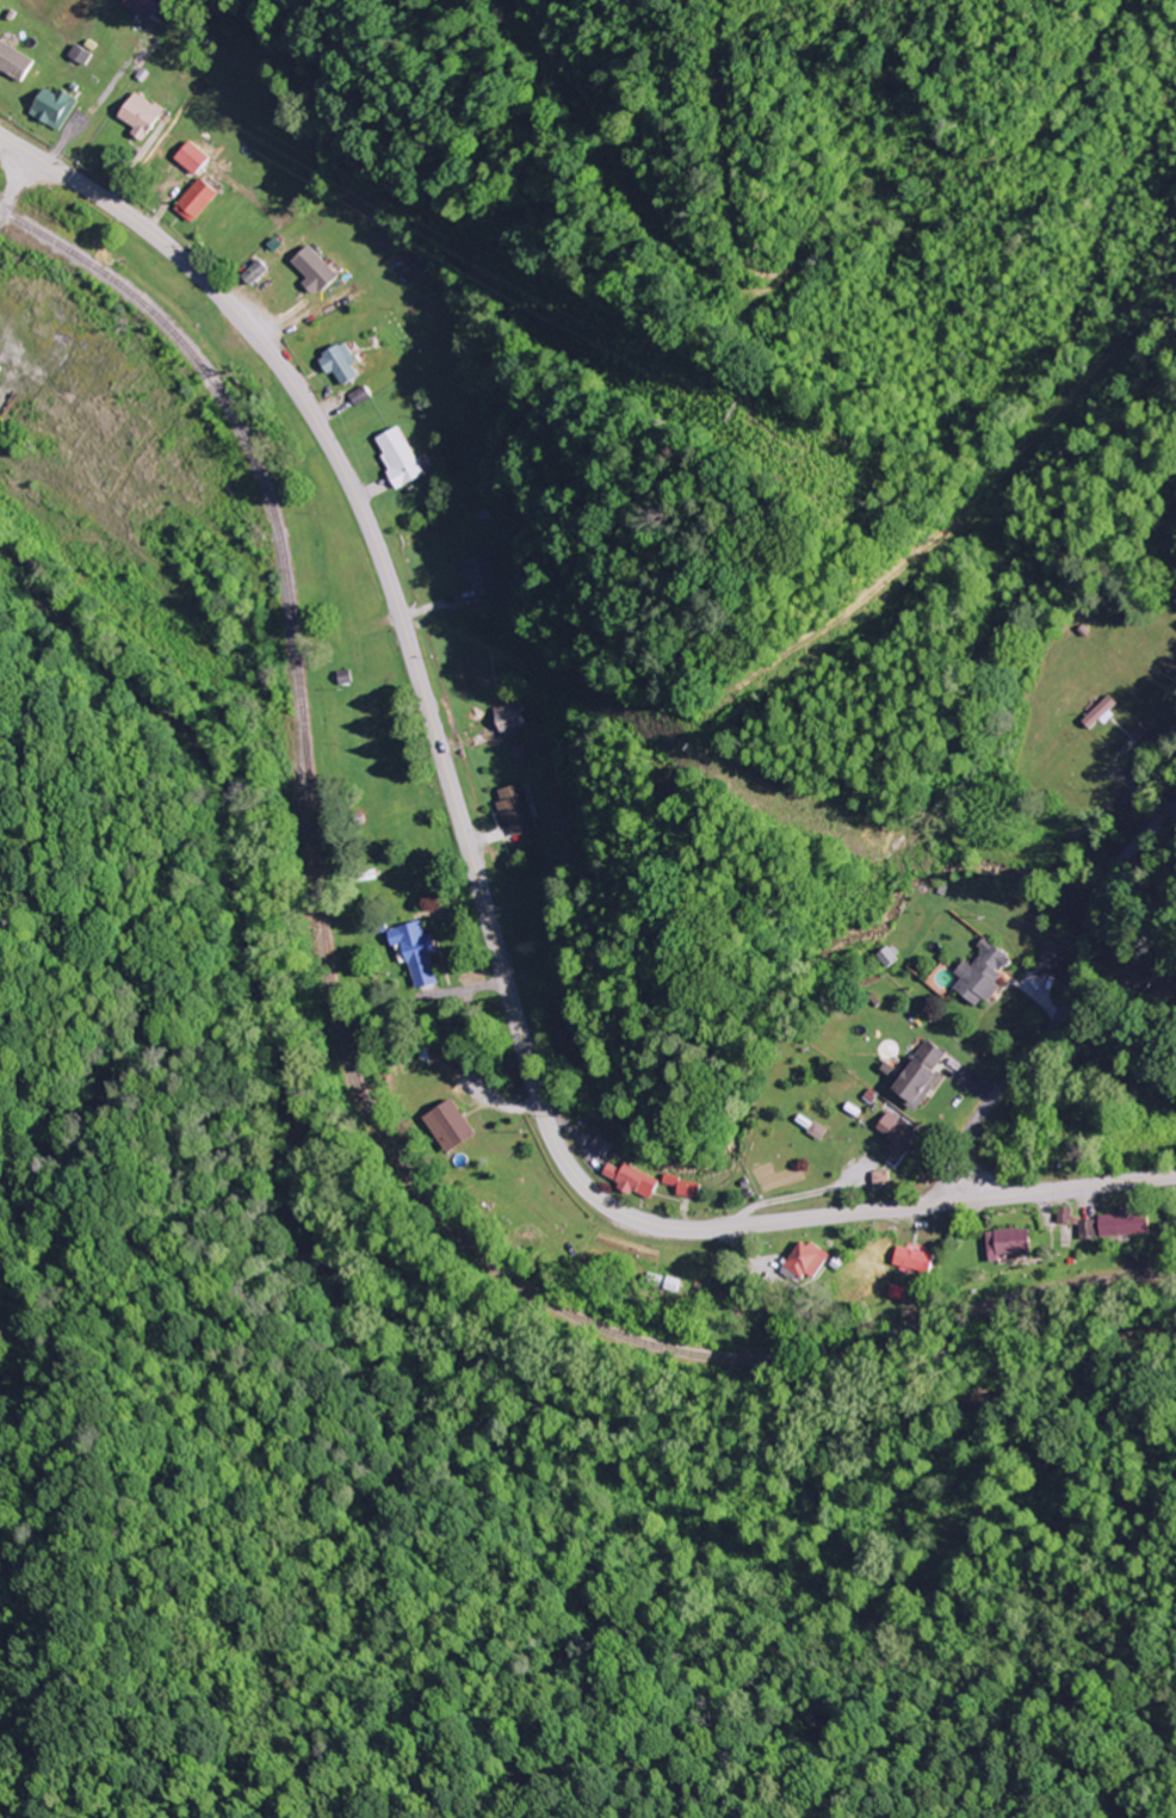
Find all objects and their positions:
building: (144, 7)
building: (17, 60)
building: (49, 107)
building: (136, 113)
road: (538, 119)
building: (187, 156)
road: (12, 179)
building: (192, 199)
building: (307, 268)
road: (384, 330)
building: (334, 363)
building: (391, 456)
building: (472, 574)
building: (1100, 711)
building: (508, 810)
road: (477, 884)
building: (414, 952)
building: (887, 954)
building: (1051, 958)
building: (979, 973)
road: (1072, 1007)
railway: (349, 1056)
building: (917, 1074)
building: (448, 1125)
building: (816, 1130)
building: (896, 1131)
building: (601, 1145)
building: (881, 1177)
building: (631, 1180)
building: (682, 1186)
building: (1064, 1214)
building: (1124, 1224)
building: (1088, 1229)
building: (1007, 1242)
building: (911, 1259)
building: (804, 1260)
building: (662, 1281)

